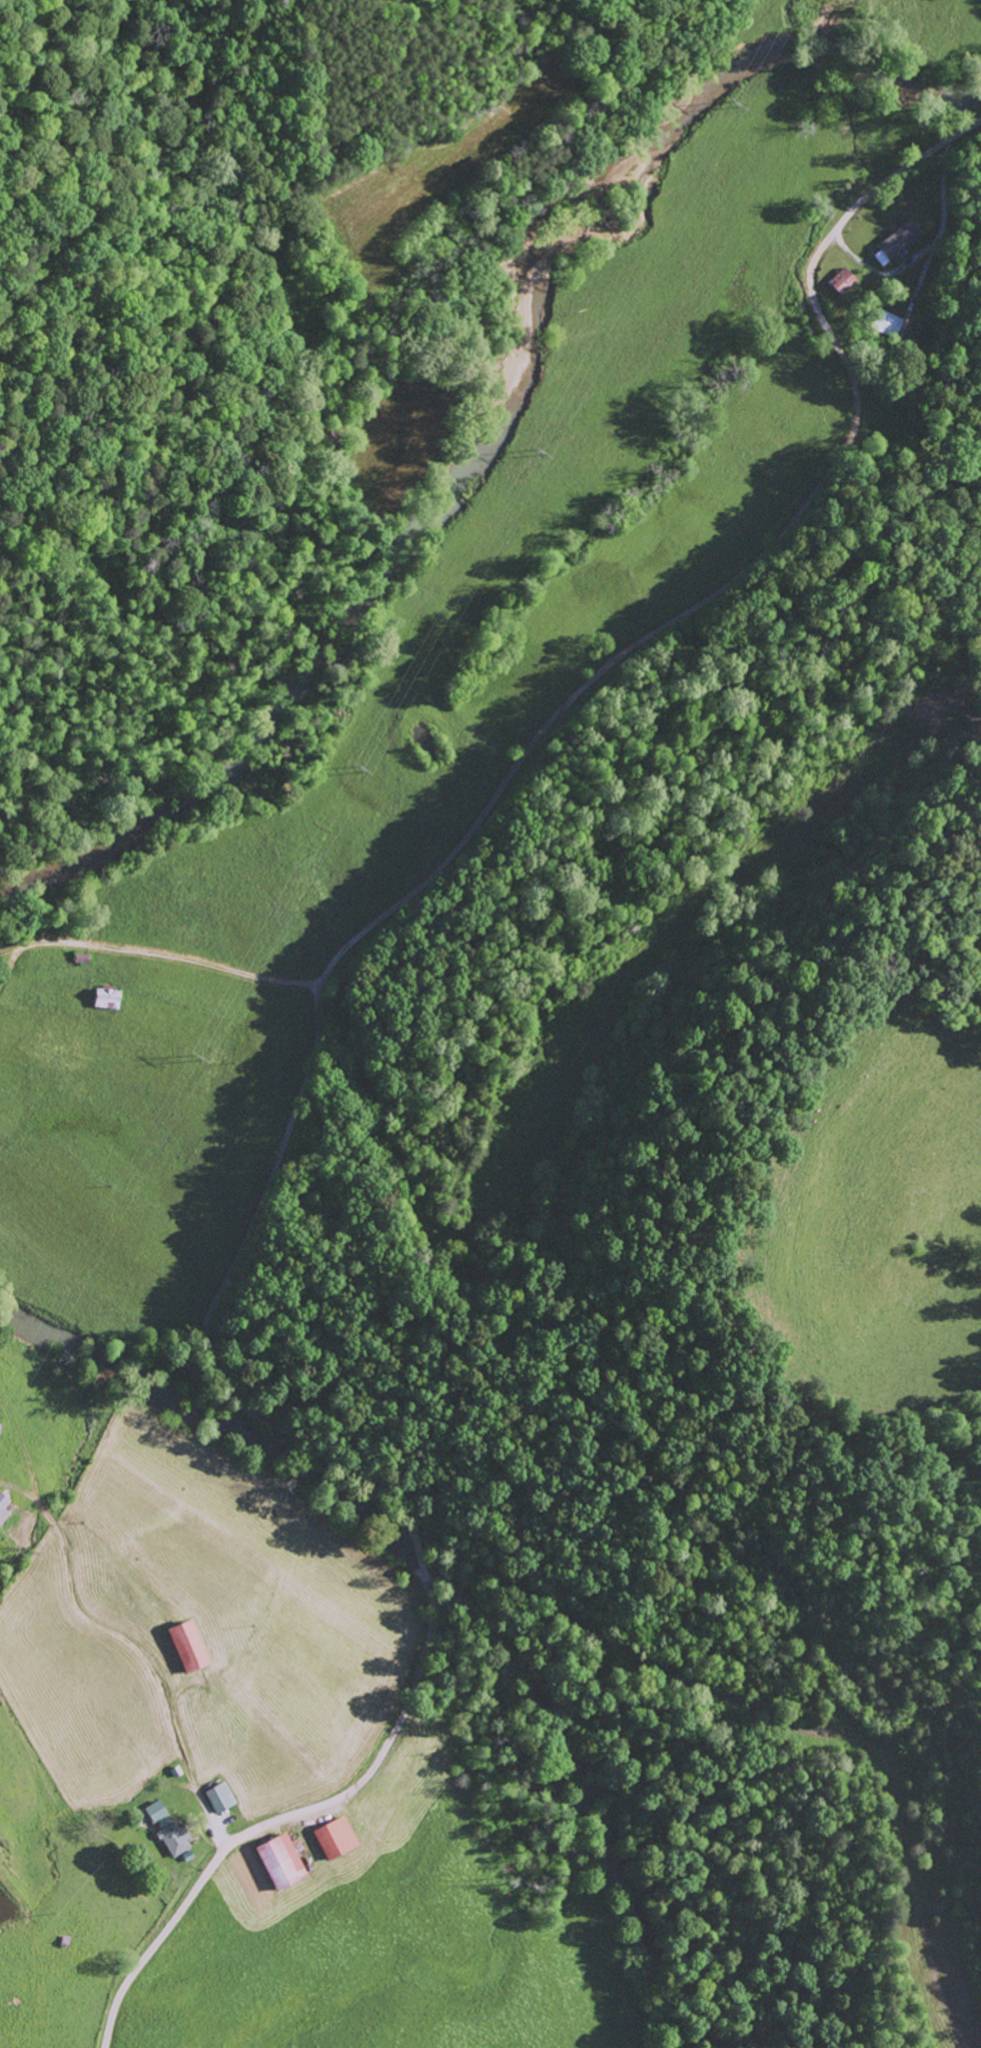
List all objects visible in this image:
road: (612, 108)
building: (895, 243)
building: (841, 281)
road: (677, 619)
building: (104, 998)
road: (148, 1049)
power tower: (209, 1054)
road: (227, 1389)
building: (0, 1425)
building: (3, 1508)
building: (184, 1646)
building: (218, 1797)
building: (154, 1811)
road: (284, 1816)
building: (172, 1837)
building: (333, 1837)
building: (277, 1861)
building: (934, 1907)

